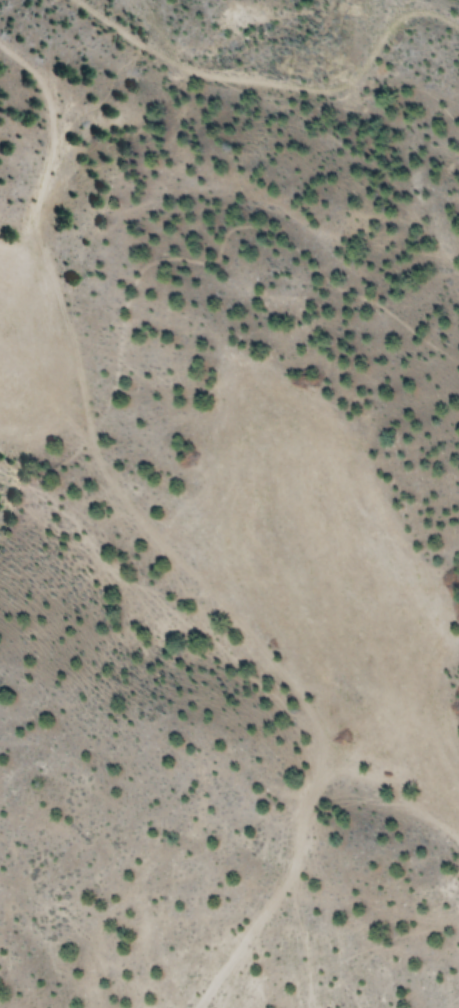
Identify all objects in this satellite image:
road: (277, 84)
road: (49, 131)

